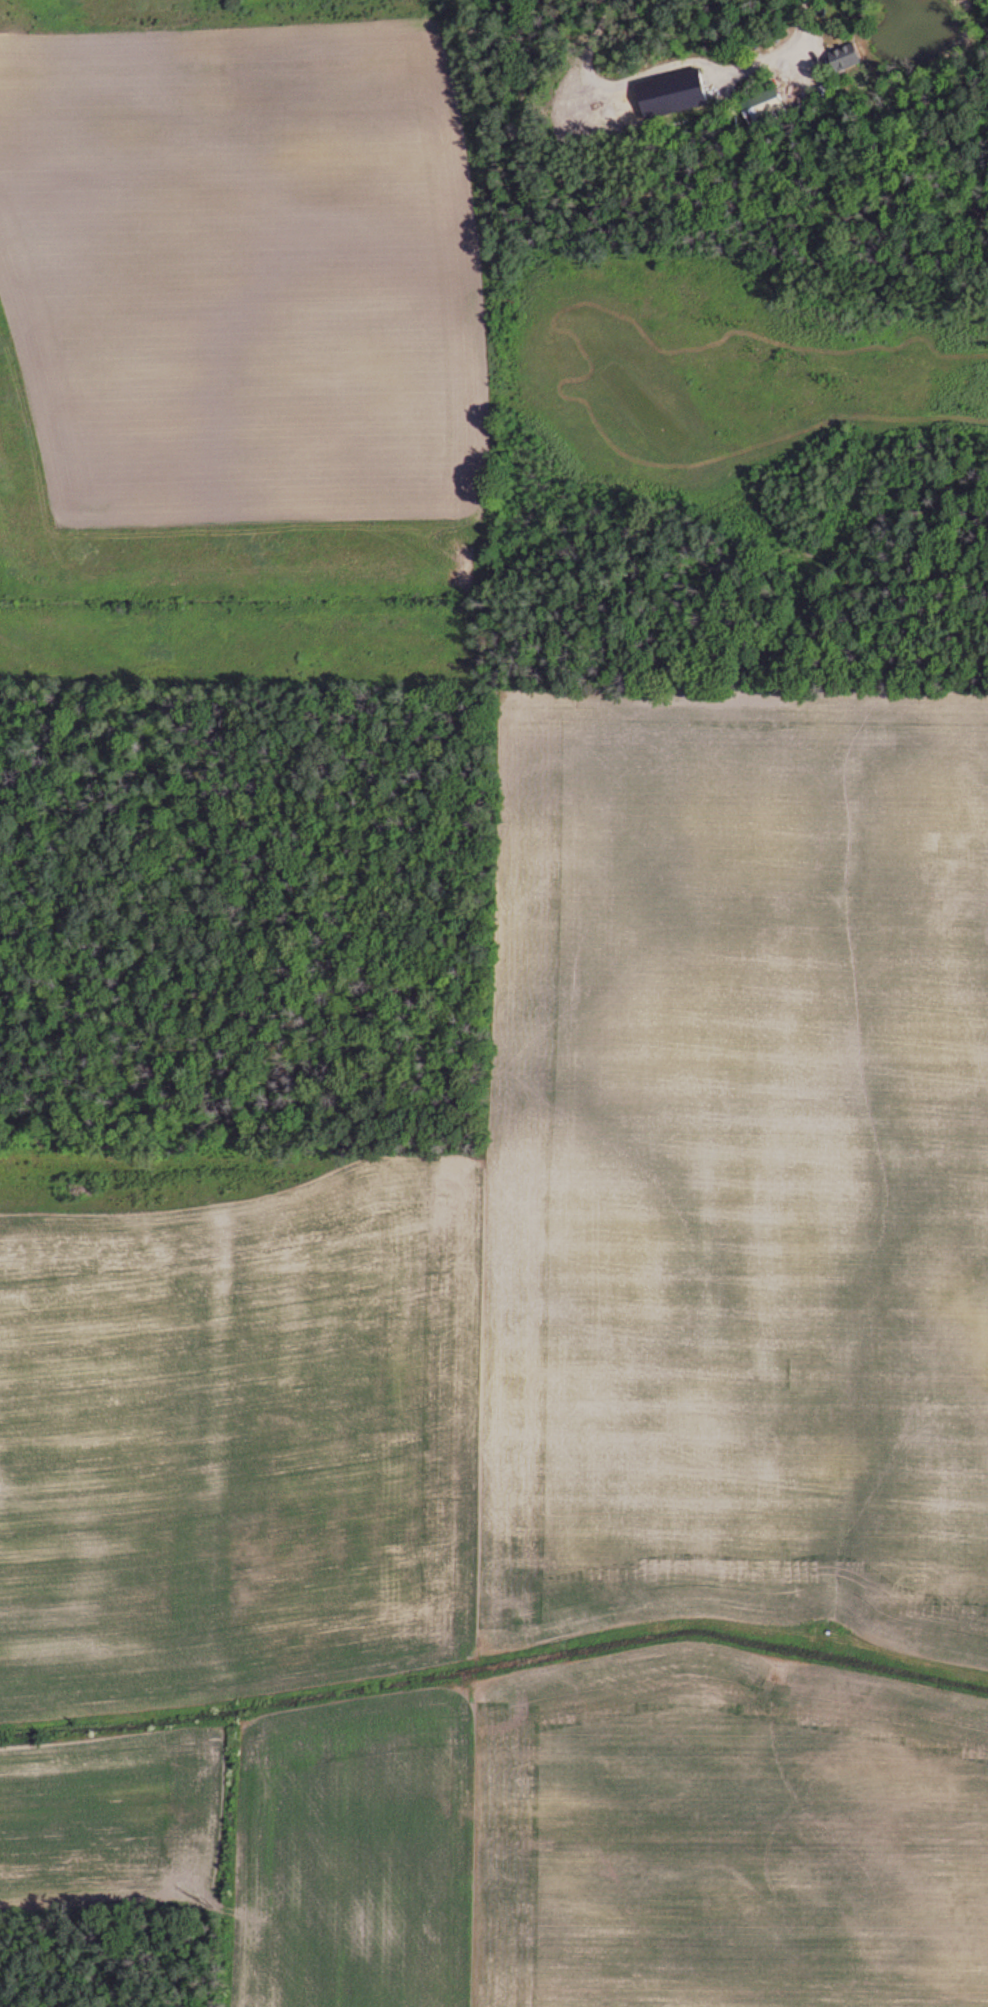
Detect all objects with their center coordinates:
building: (840, 56)
road: (647, 73)
building: (761, 101)

